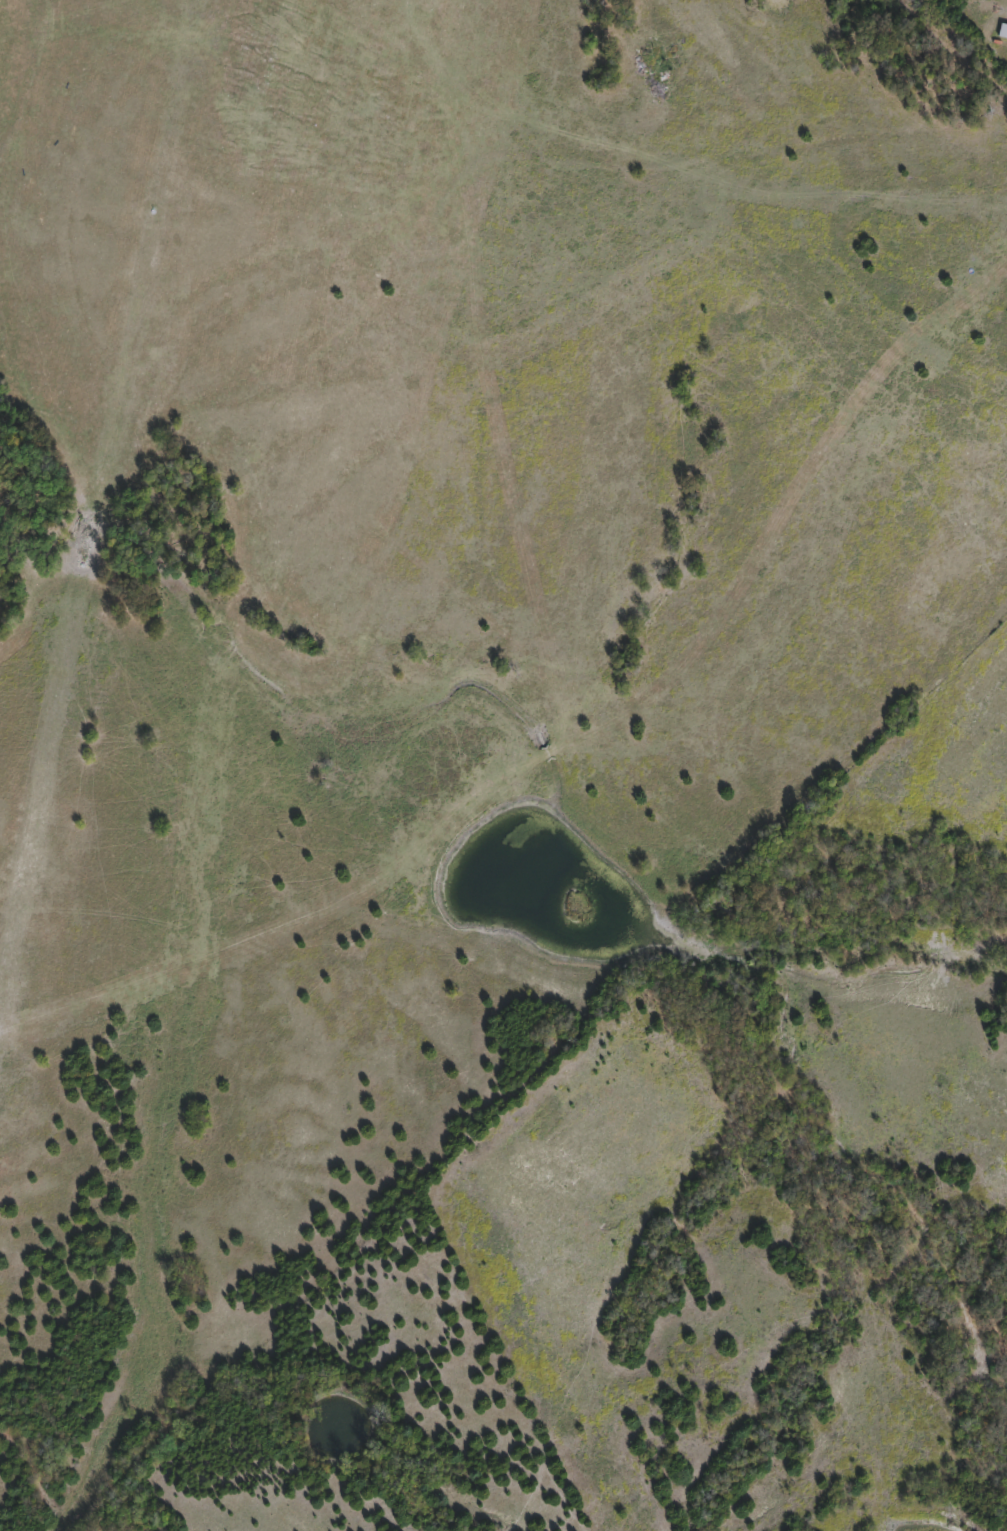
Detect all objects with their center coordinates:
building: (1003, 32)

